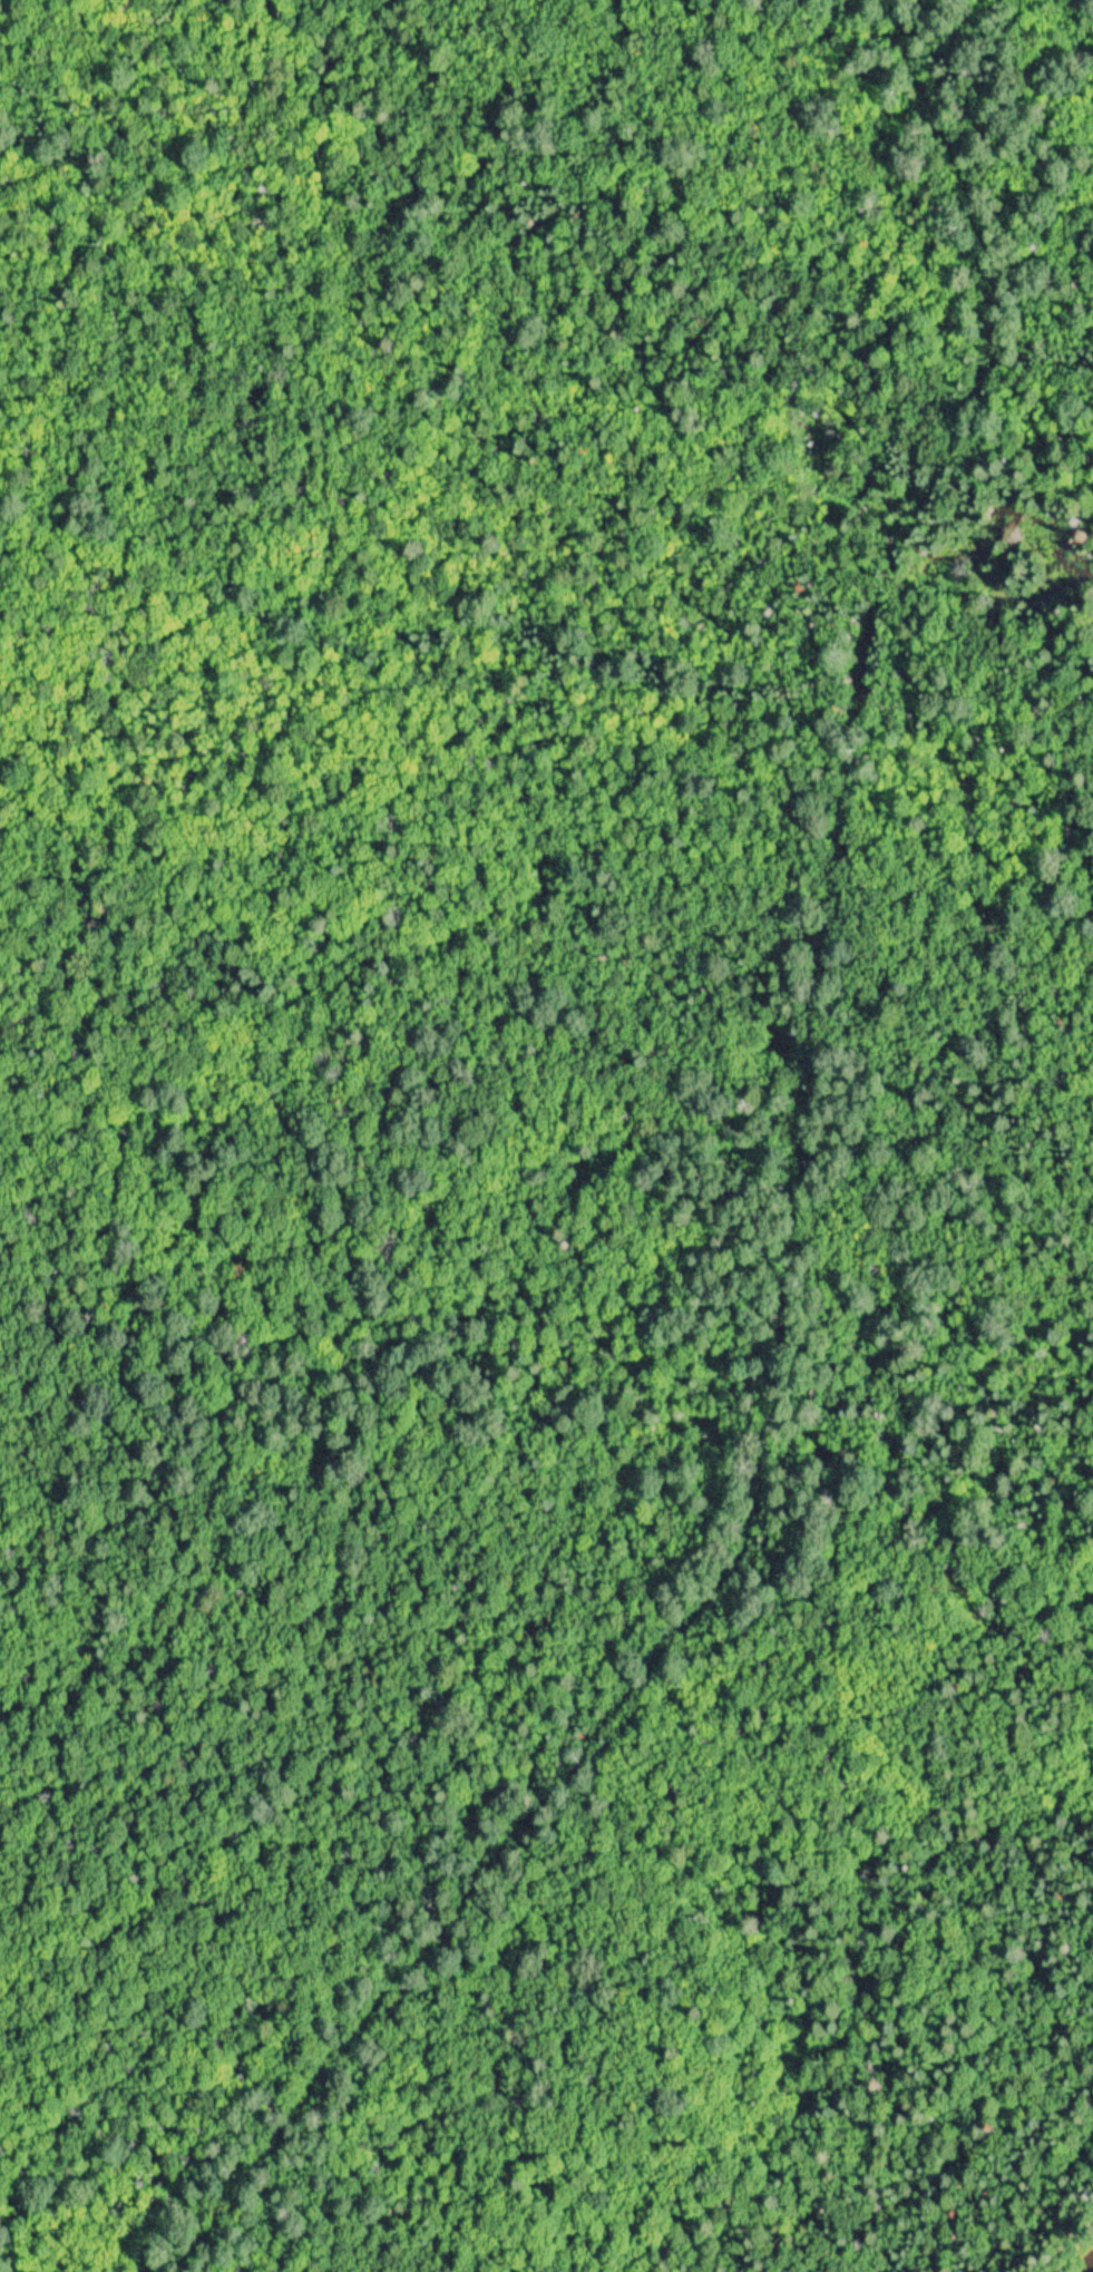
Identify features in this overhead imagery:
road: (1048, 333)
road: (823, 1242)
road: (995, 2188)

